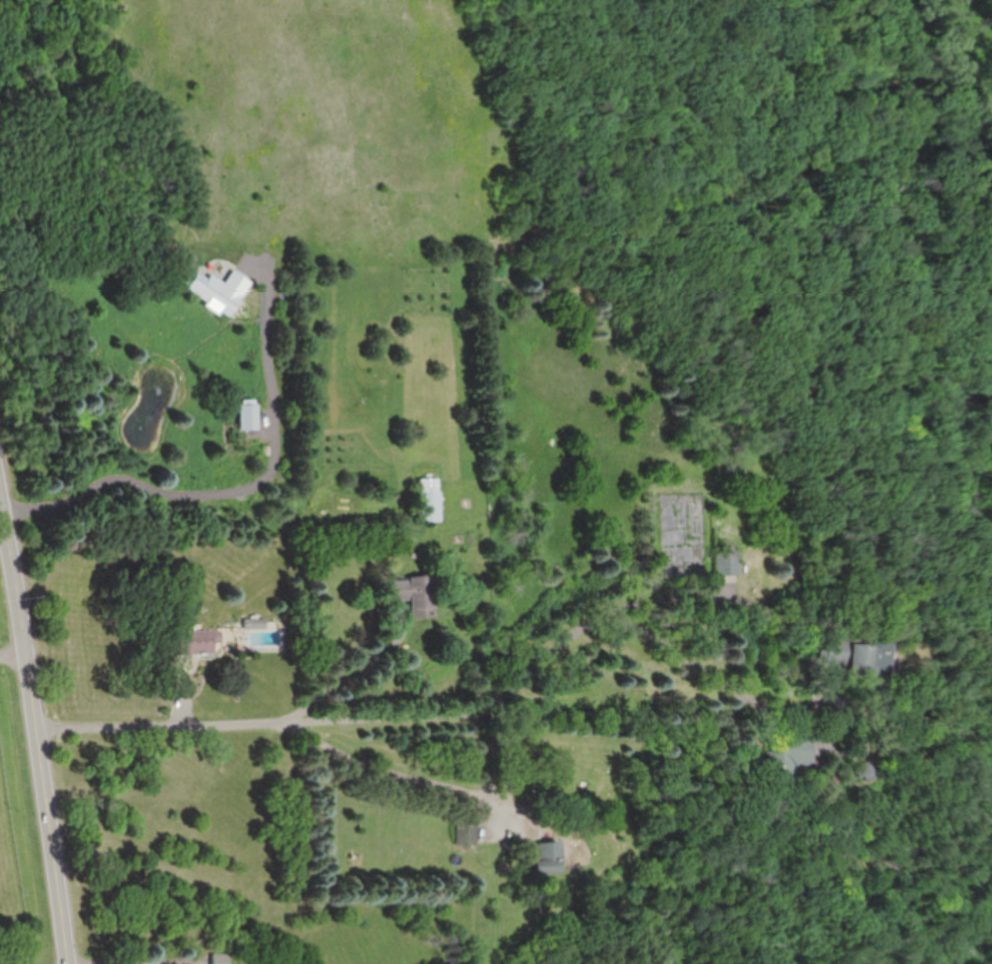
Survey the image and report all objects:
park: (537, 146)
road: (763, 198)
road: (235, 482)
building: (428, 500)
building: (726, 563)
road: (19, 596)
building: (415, 596)
road: (687, 597)
building: (192, 642)
building: (857, 656)
road: (15, 660)
road: (353, 671)
road: (391, 720)
road: (167, 726)
building: (784, 755)
road: (403, 772)
building: (862, 773)
road: (55, 846)
building: (545, 857)
building: (219, 959)
road: (135, 961)

